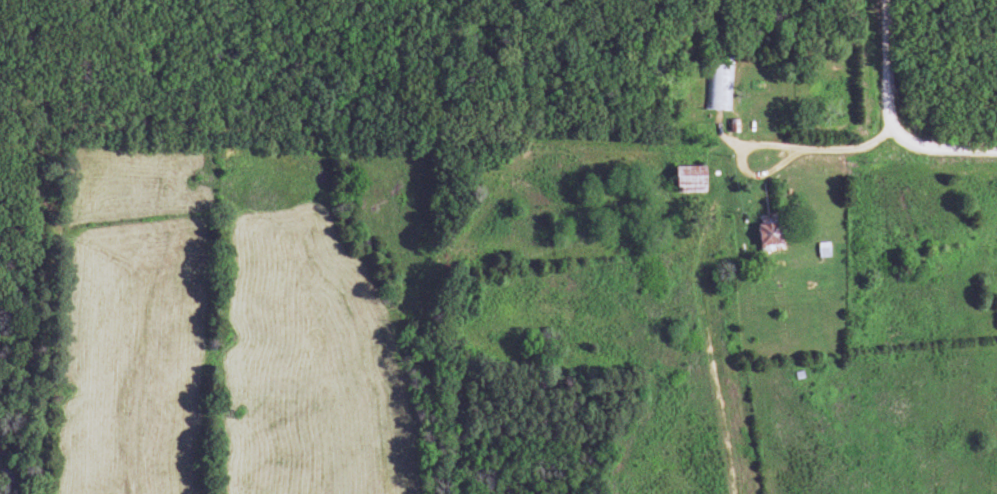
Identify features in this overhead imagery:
road: (879, 70)
building: (716, 88)
road: (768, 144)
road: (940, 151)
building: (687, 180)
building: (767, 237)

